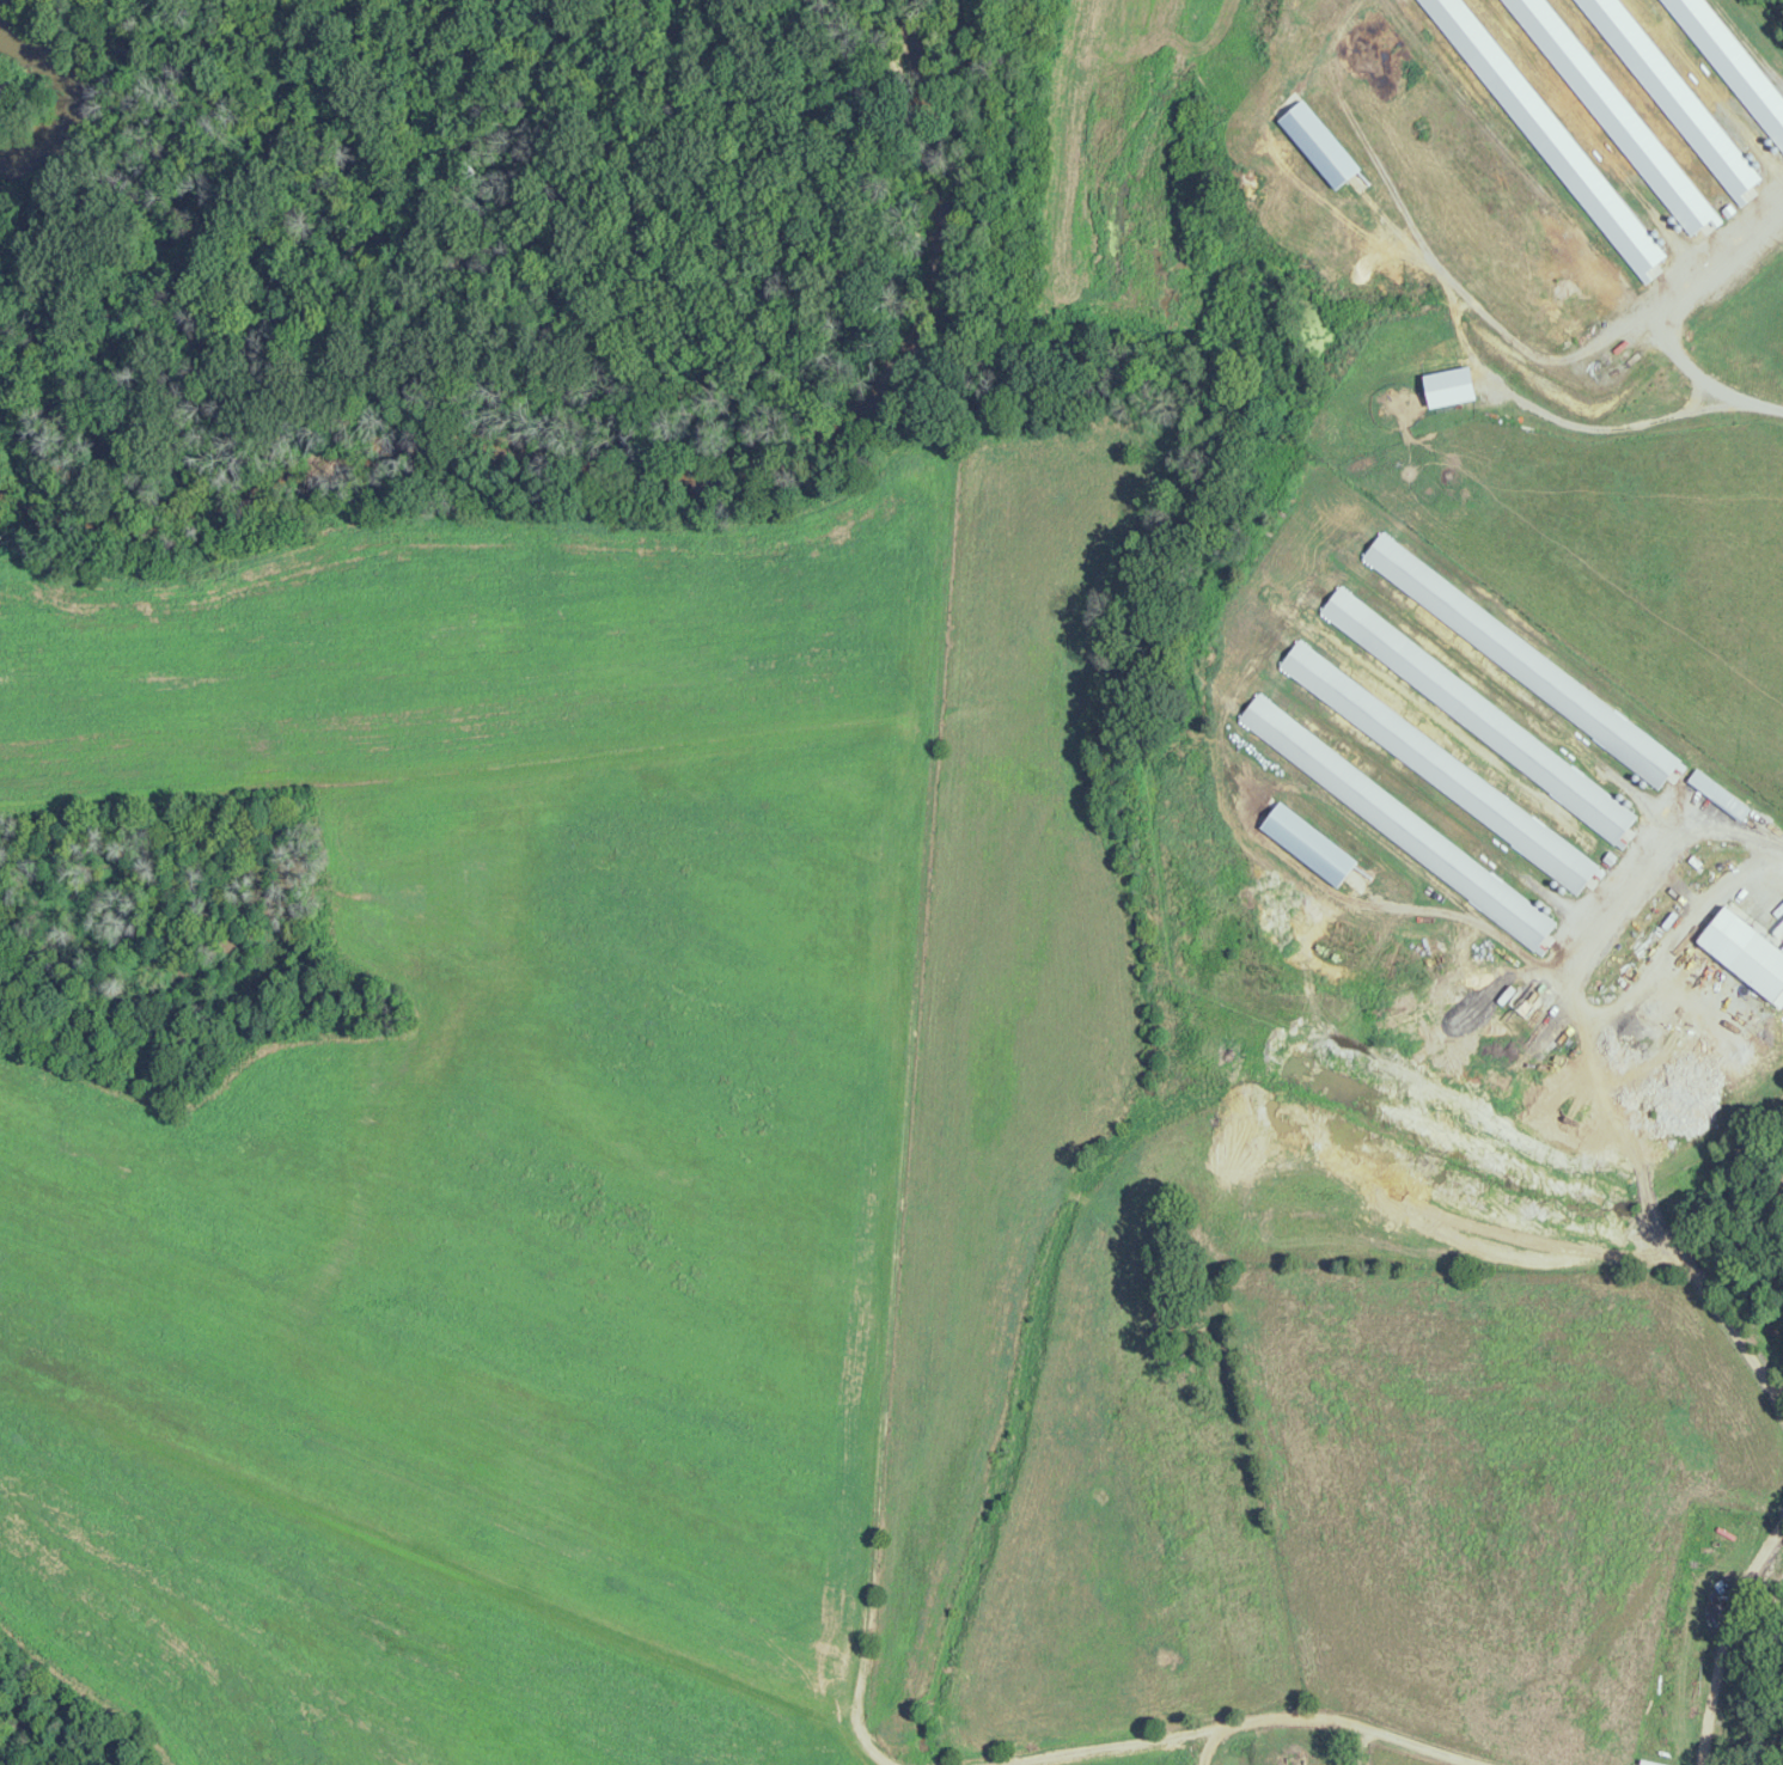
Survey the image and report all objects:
river: (904, 29)
road: (1730, 269)
road: (1709, 381)
river: (572, 442)
road: (1618, 1056)
road: (1720, 1625)
road: (1348, 1721)

